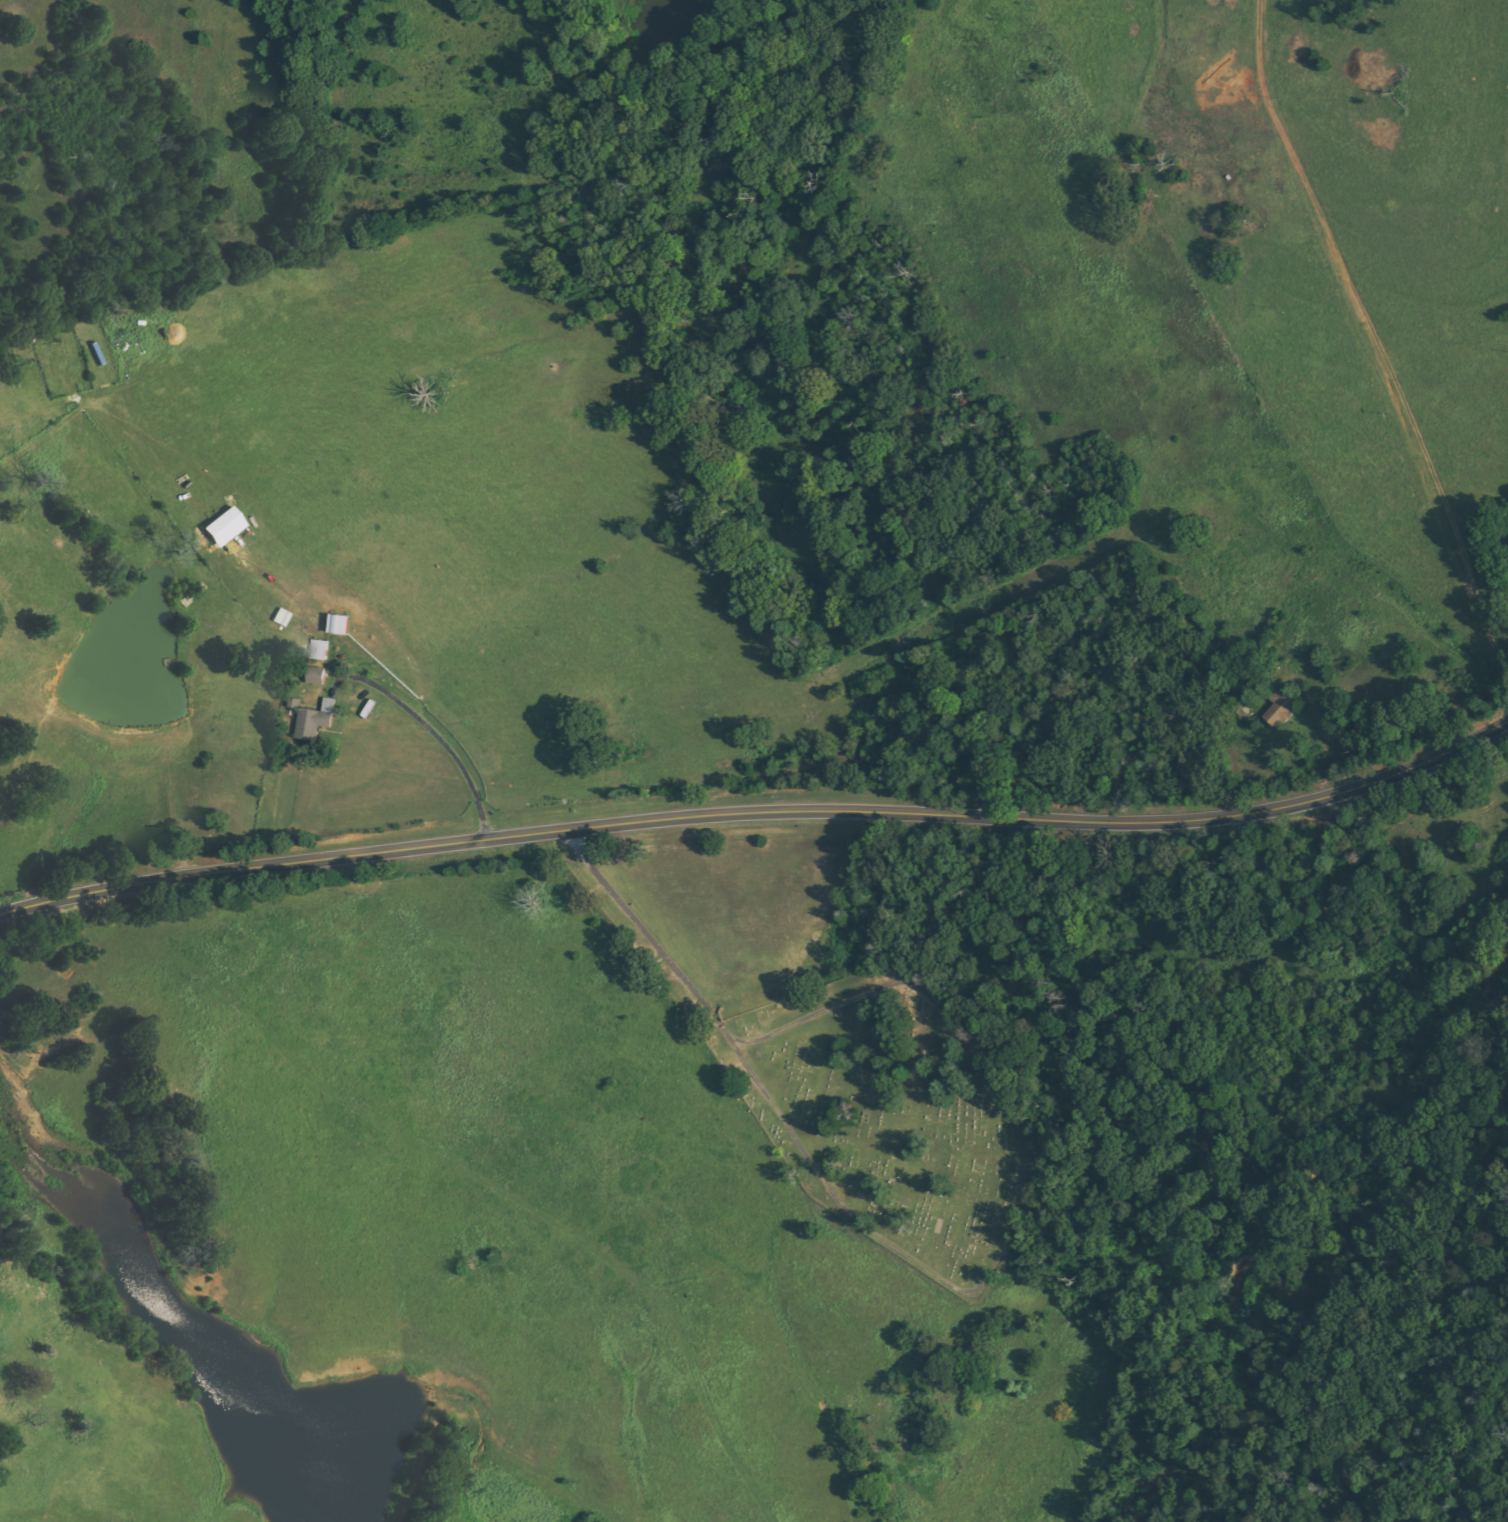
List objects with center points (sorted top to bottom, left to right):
road: (1397, 322)
building: (225, 526)
building: (322, 650)
building: (318, 676)
building: (1282, 711)
building: (317, 720)
road: (759, 815)
road: (619, 927)
park: (894, 1116)

